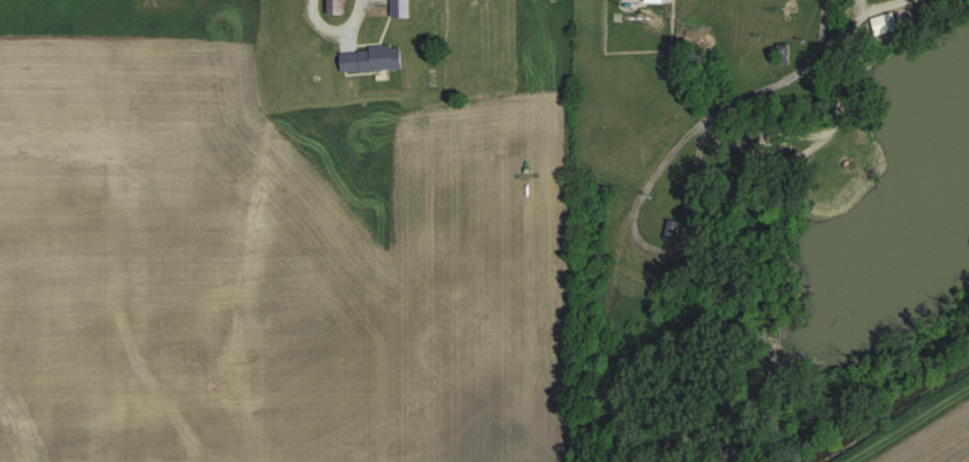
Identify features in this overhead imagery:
building: (655, 1)
building: (338, 7)
road: (328, 36)
building: (787, 53)
building: (312, 72)

